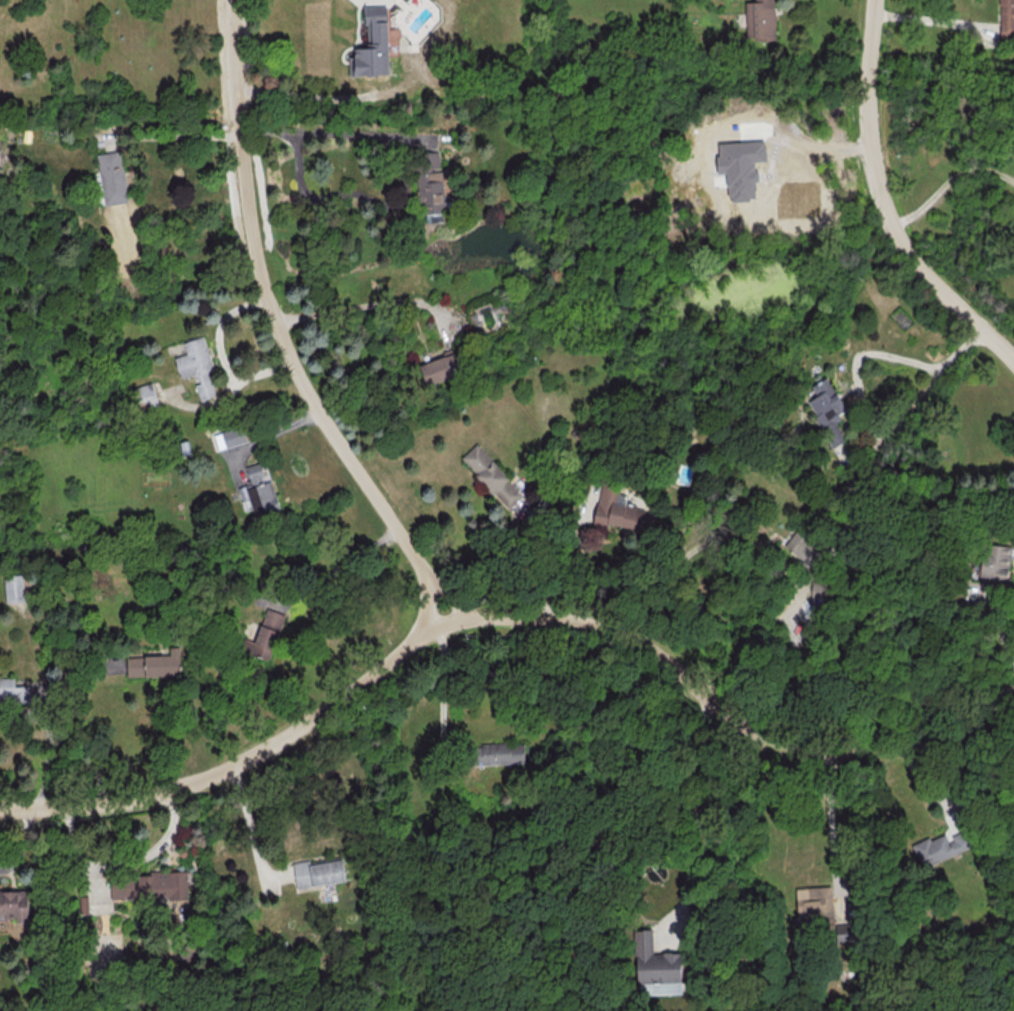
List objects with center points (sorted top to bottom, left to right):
building: (760, 19)
building: (1006, 19)
road: (934, 25)
building: (393, 40)
building: (373, 43)
road: (181, 134)
road: (819, 145)
building: (739, 167)
building: (112, 177)
road: (948, 182)
building: (430, 184)
road: (374, 198)
road: (883, 202)
road: (271, 305)
road: (369, 305)
building: (196, 365)
building: (439, 368)
building: (144, 396)
building: (829, 414)
road: (877, 433)
building: (232, 435)
building: (495, 480)
building: (259, 489)
building: (617, 510)
building: (802, 547)
road: (567, 563)
building: (994, 563)
road: (505, 564)
road: (343, 568)
building: (14, 587)
road: (450, 595)
road: (427, 604)
road: (509, 616)
building: (265, 635)
road: (749, 643)
building: (154, 664)
road: (444, 687)
building: (13, 690)
road: (61, 722)
road: (51, 752)
road: (698, 809)
road: (833, 812)
road: (250, 820)
building: (939, 847)
road: (731, 862)
building: (318, 872)
building: (162, 885)
building: (122, 889)
building: (814, 904)
building: (13, 905)
building: (655, 967)

